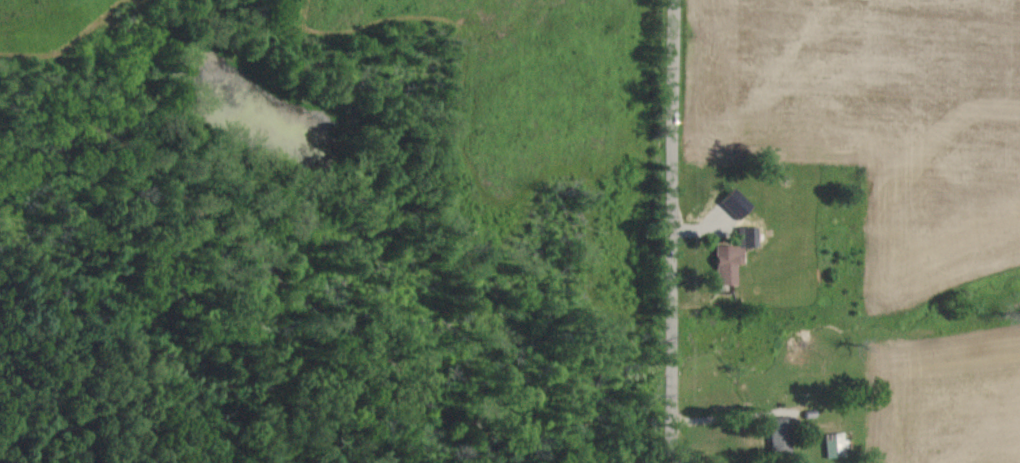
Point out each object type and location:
building: (741, 204)
road: (672, 231)
building: (738, 256)
road: (727, 419)
building: (838, 446)

